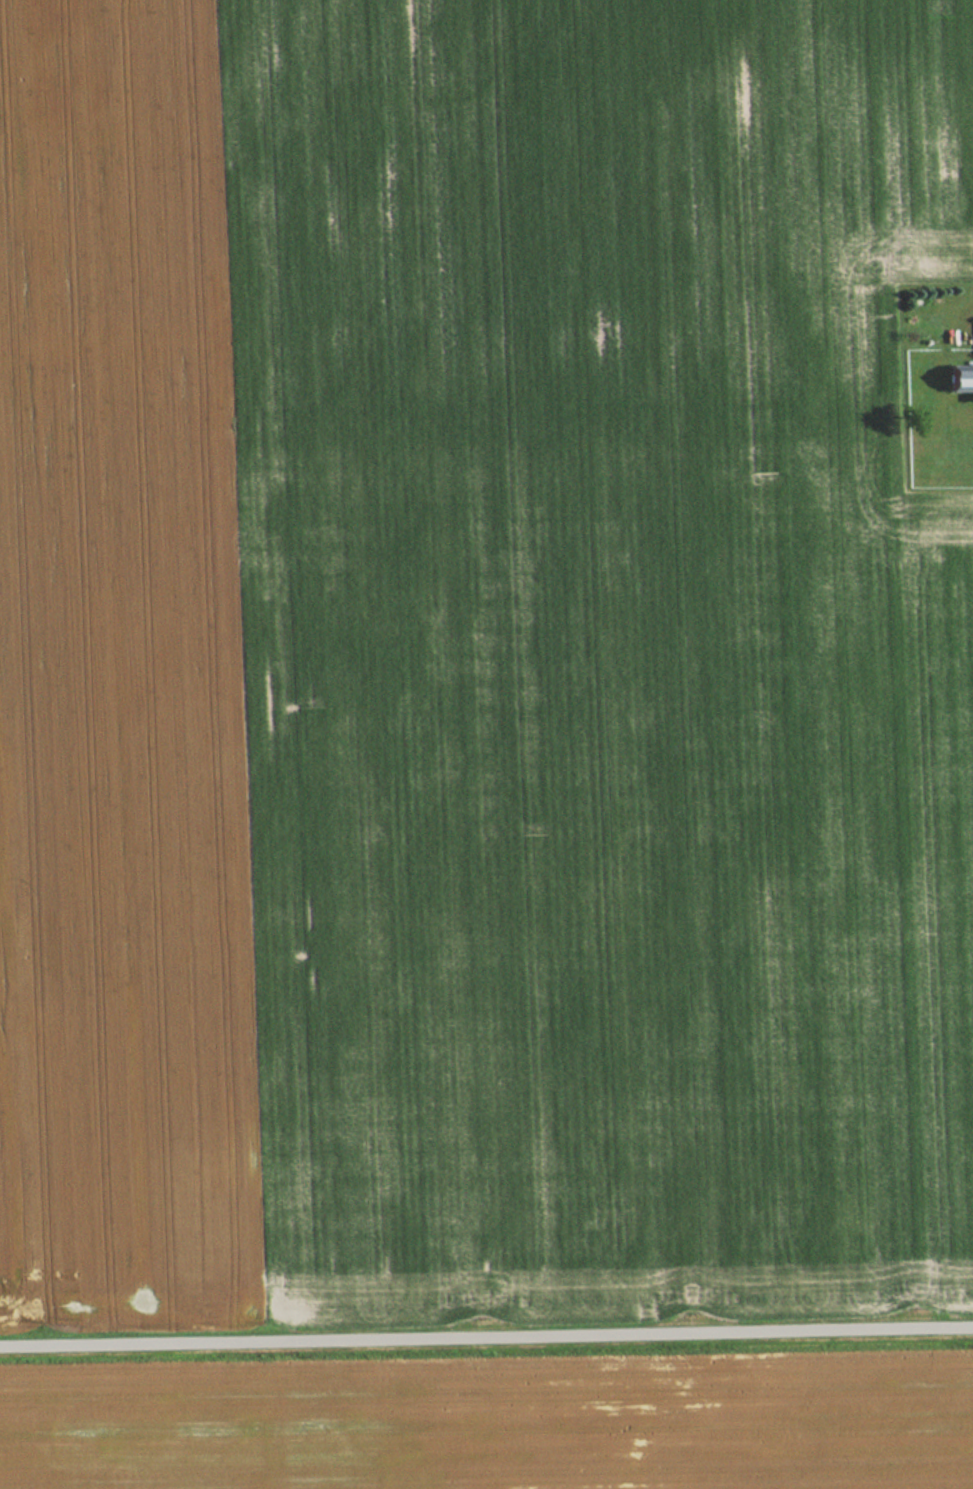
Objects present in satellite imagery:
crop: (479, 658)
road: (486, 1338)
crop: (498, 1428)

